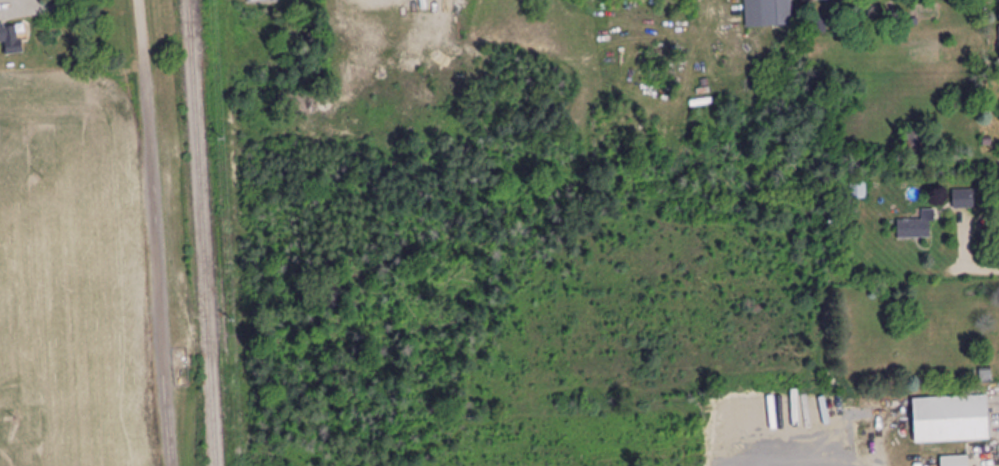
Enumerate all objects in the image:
building: (777, 12)
building: (11, 38)
building: (858, 190)
building: (963, 199)
building: (916, 227)
road: (156, 232)
railway: (203, 233)
building: (951, 419)
building: (955, 461)
building: (926, 462)

